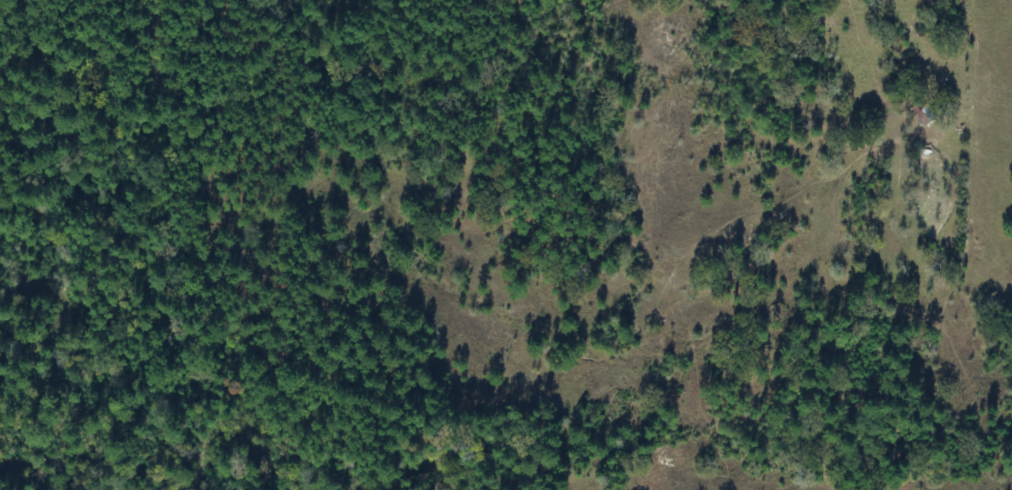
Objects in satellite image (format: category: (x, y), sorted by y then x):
building: (922, 113)

